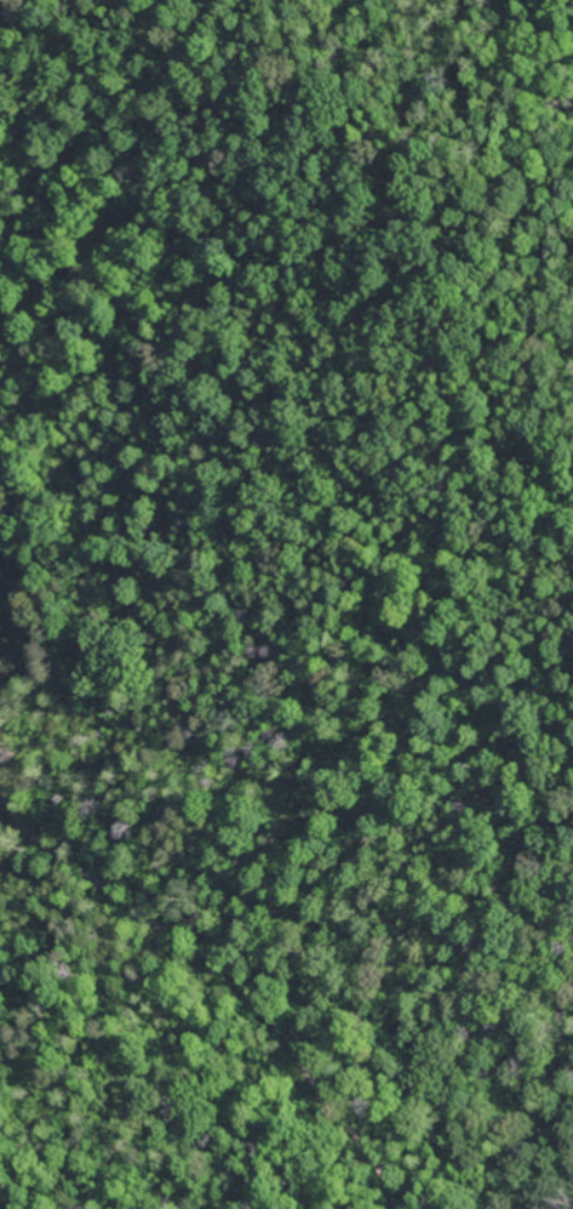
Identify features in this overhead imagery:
road: (258, 991)

